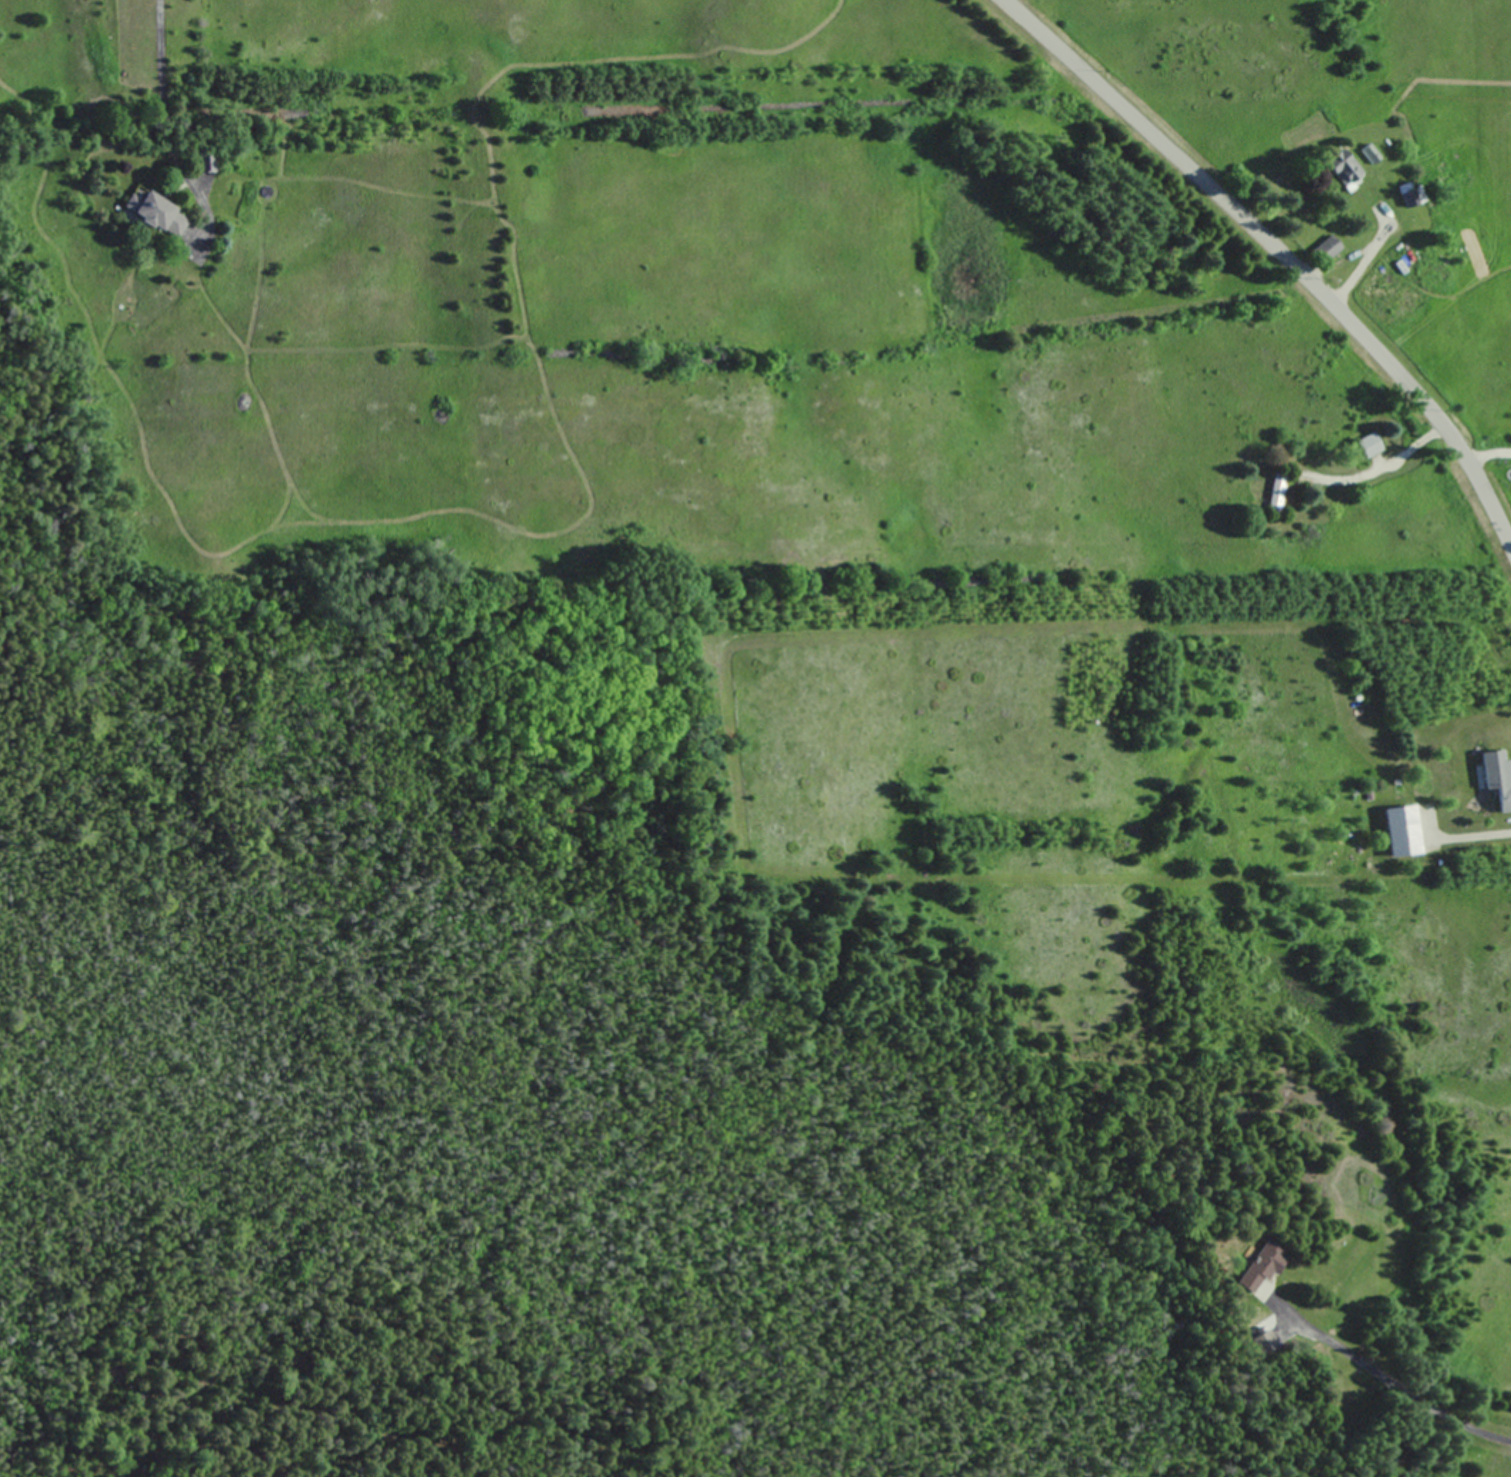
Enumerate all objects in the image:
road: (164, 105)
building: (1342, 168)
building: (155, 212)
building: (1325, 247)
road: (1281, 252)
building: (1402, 277)
building: (1370, 444)
building: (1497, 776)
building: (1407, 828)
building: (1259, 1266)
road: (1390, 1380)

